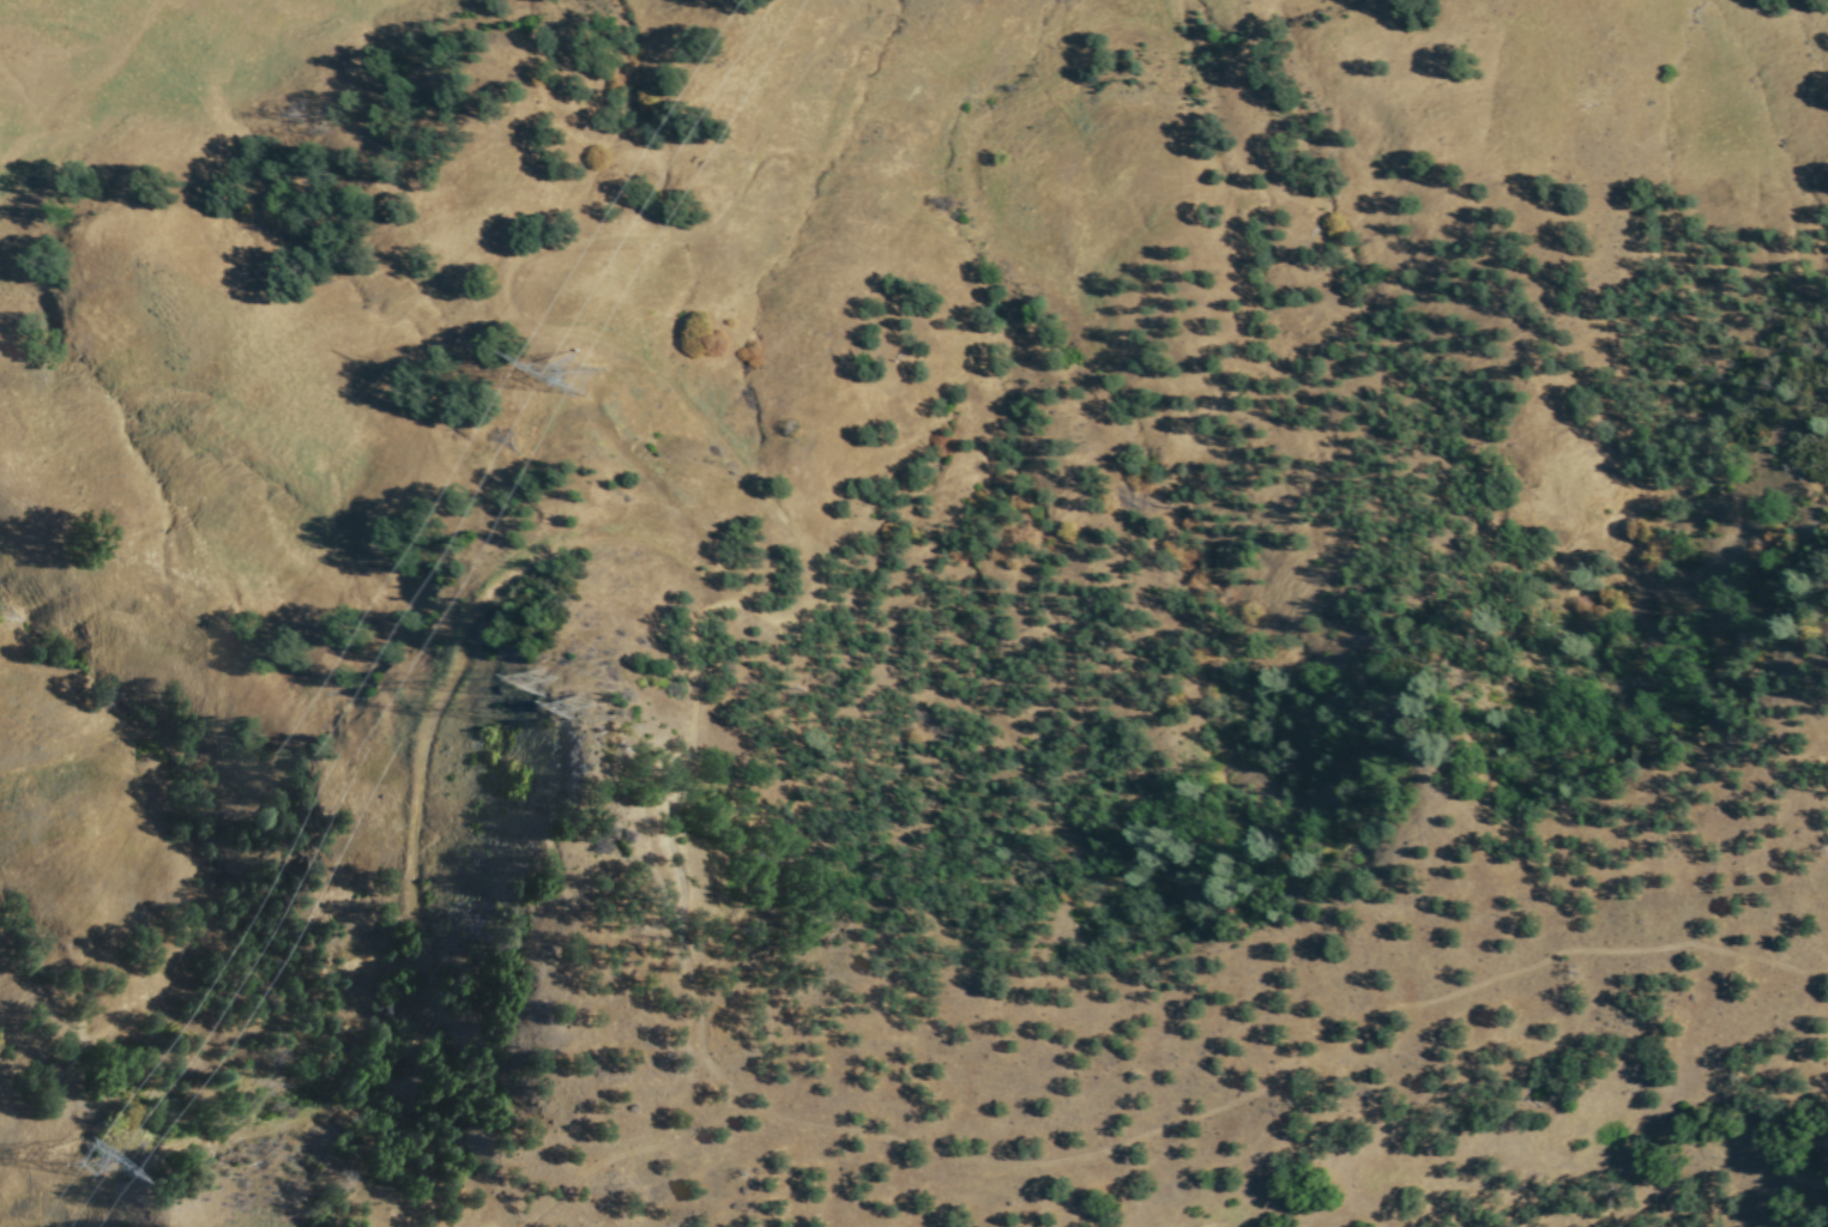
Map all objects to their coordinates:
power tower: (578, 382)
power tower: (544, 687)
power tower: (581, 715)
power tower: (83, 1178)

